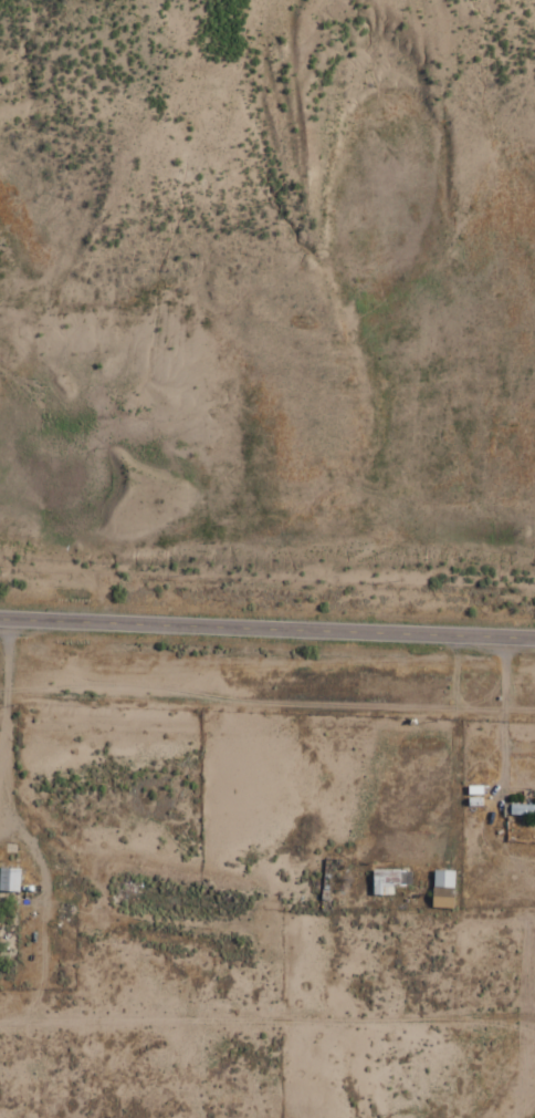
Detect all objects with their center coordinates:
road: (267, 630)

